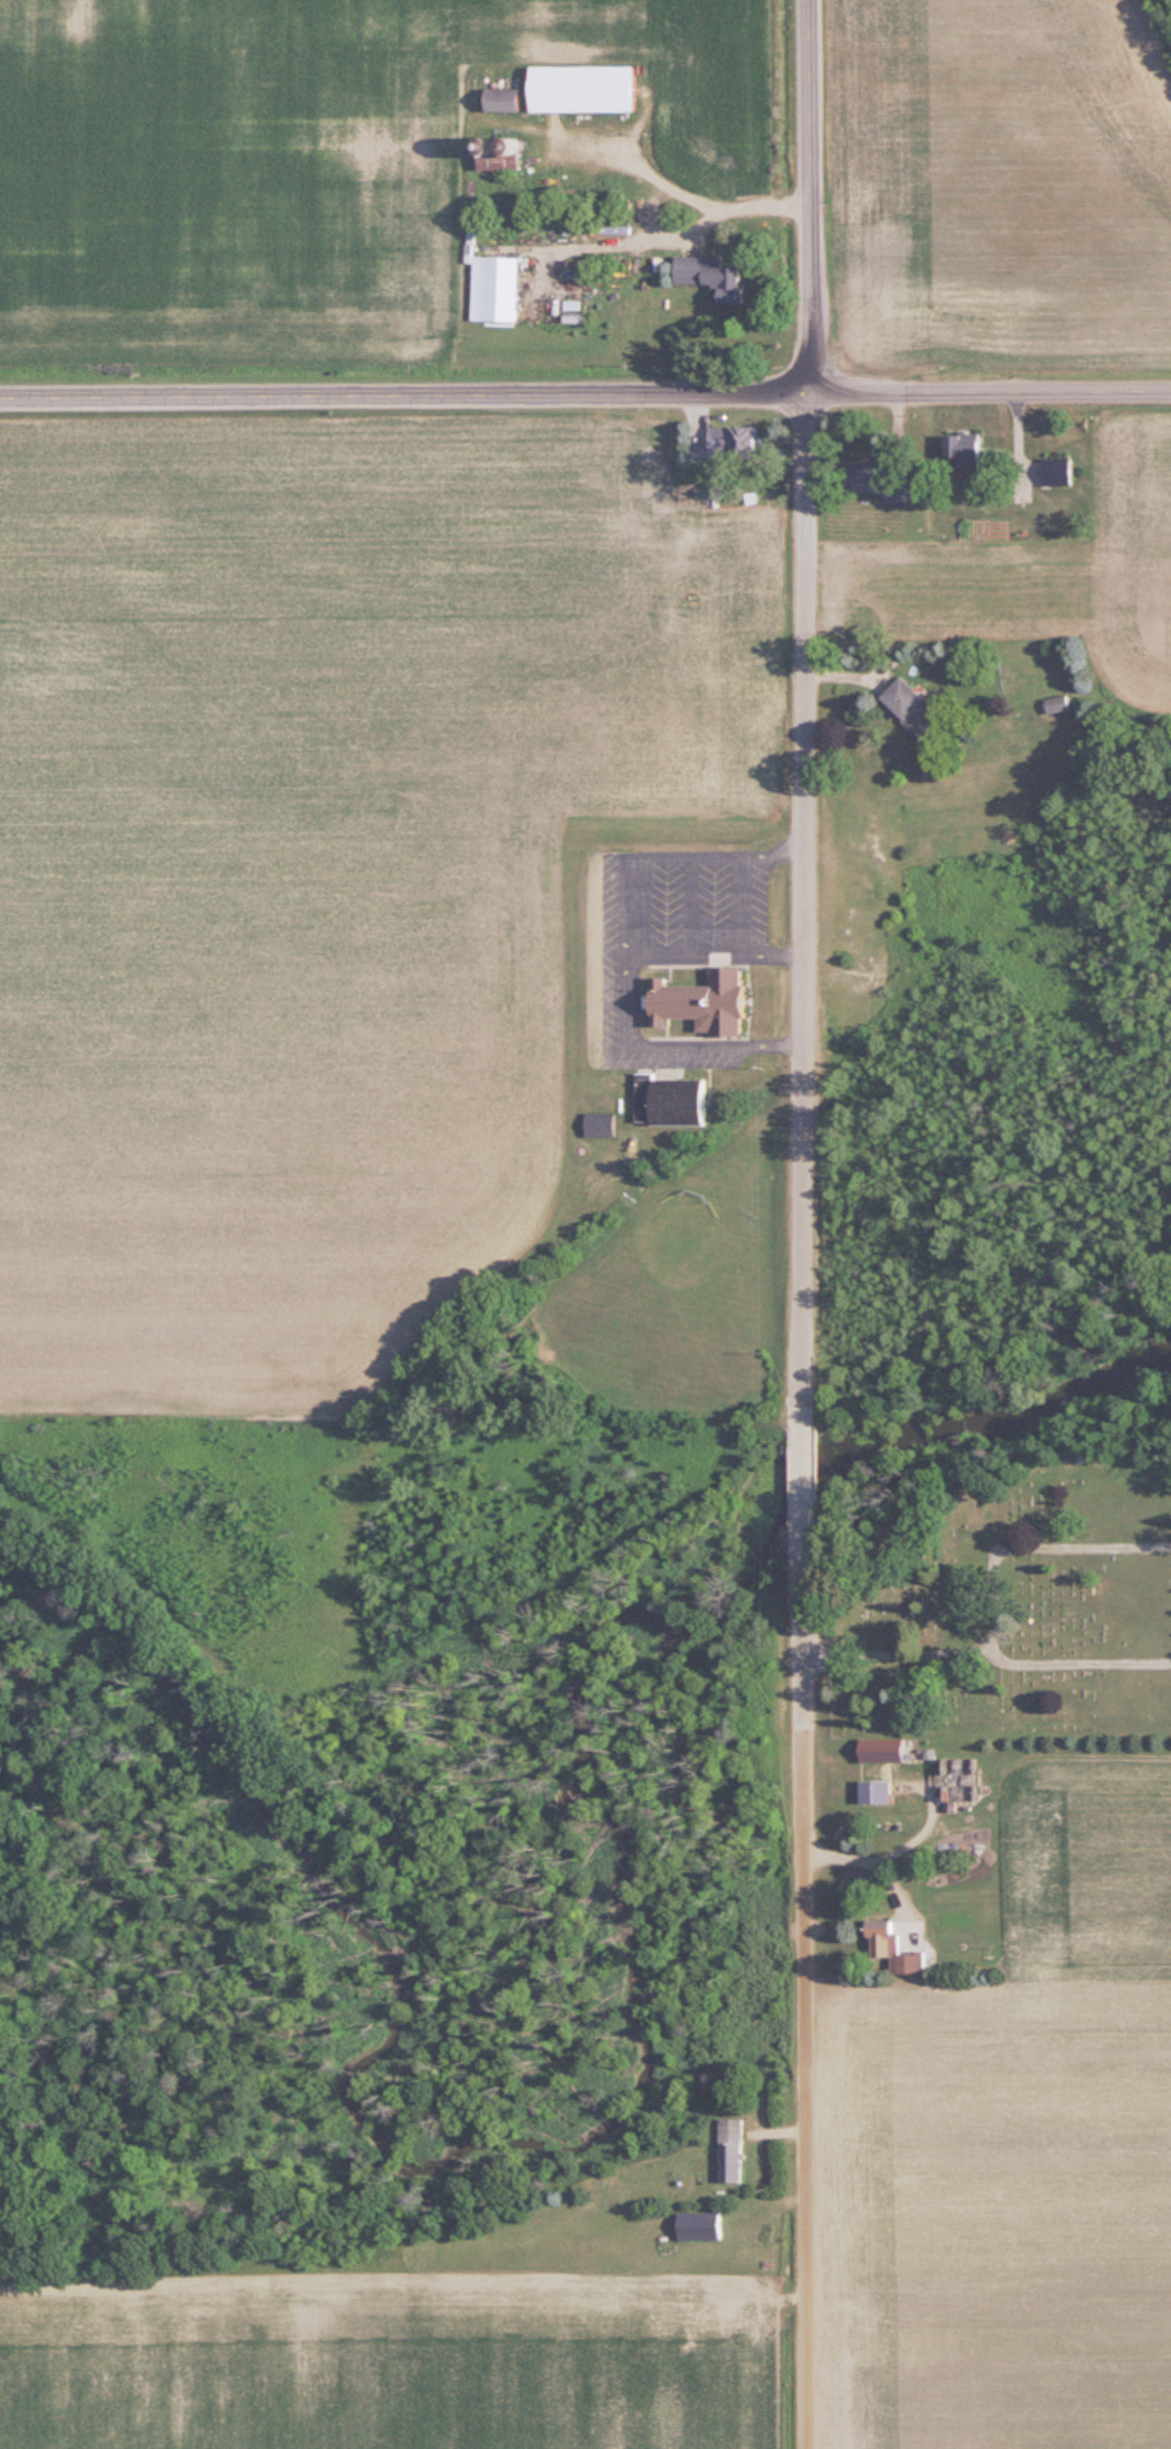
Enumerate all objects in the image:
building: (581, 88)
building: (501, 100)
building: (498, 155)
road: (806, 195)
road: (696, 197)
building: (709, 276)
building: (498, 288)
road: (584, 393)
building: (731, 440)
building: (963, 448)
building: (1055, 471)
building: (878, 480)
building: (1056, 704)
building: (911, 707)
road: (804, 912)
building: (700, 1002)
building: (669, 1100)
building: (600, 1124)
road: (802, 1475)
park: (1011, 1610)
road: (802, 1623)
building: (881, 1765)
building: (959, 1779)
building: (894, 1949)
river: (645, 2053)
road: (807, 2088)
building: (731, 2150)
building: (698, 2226)

